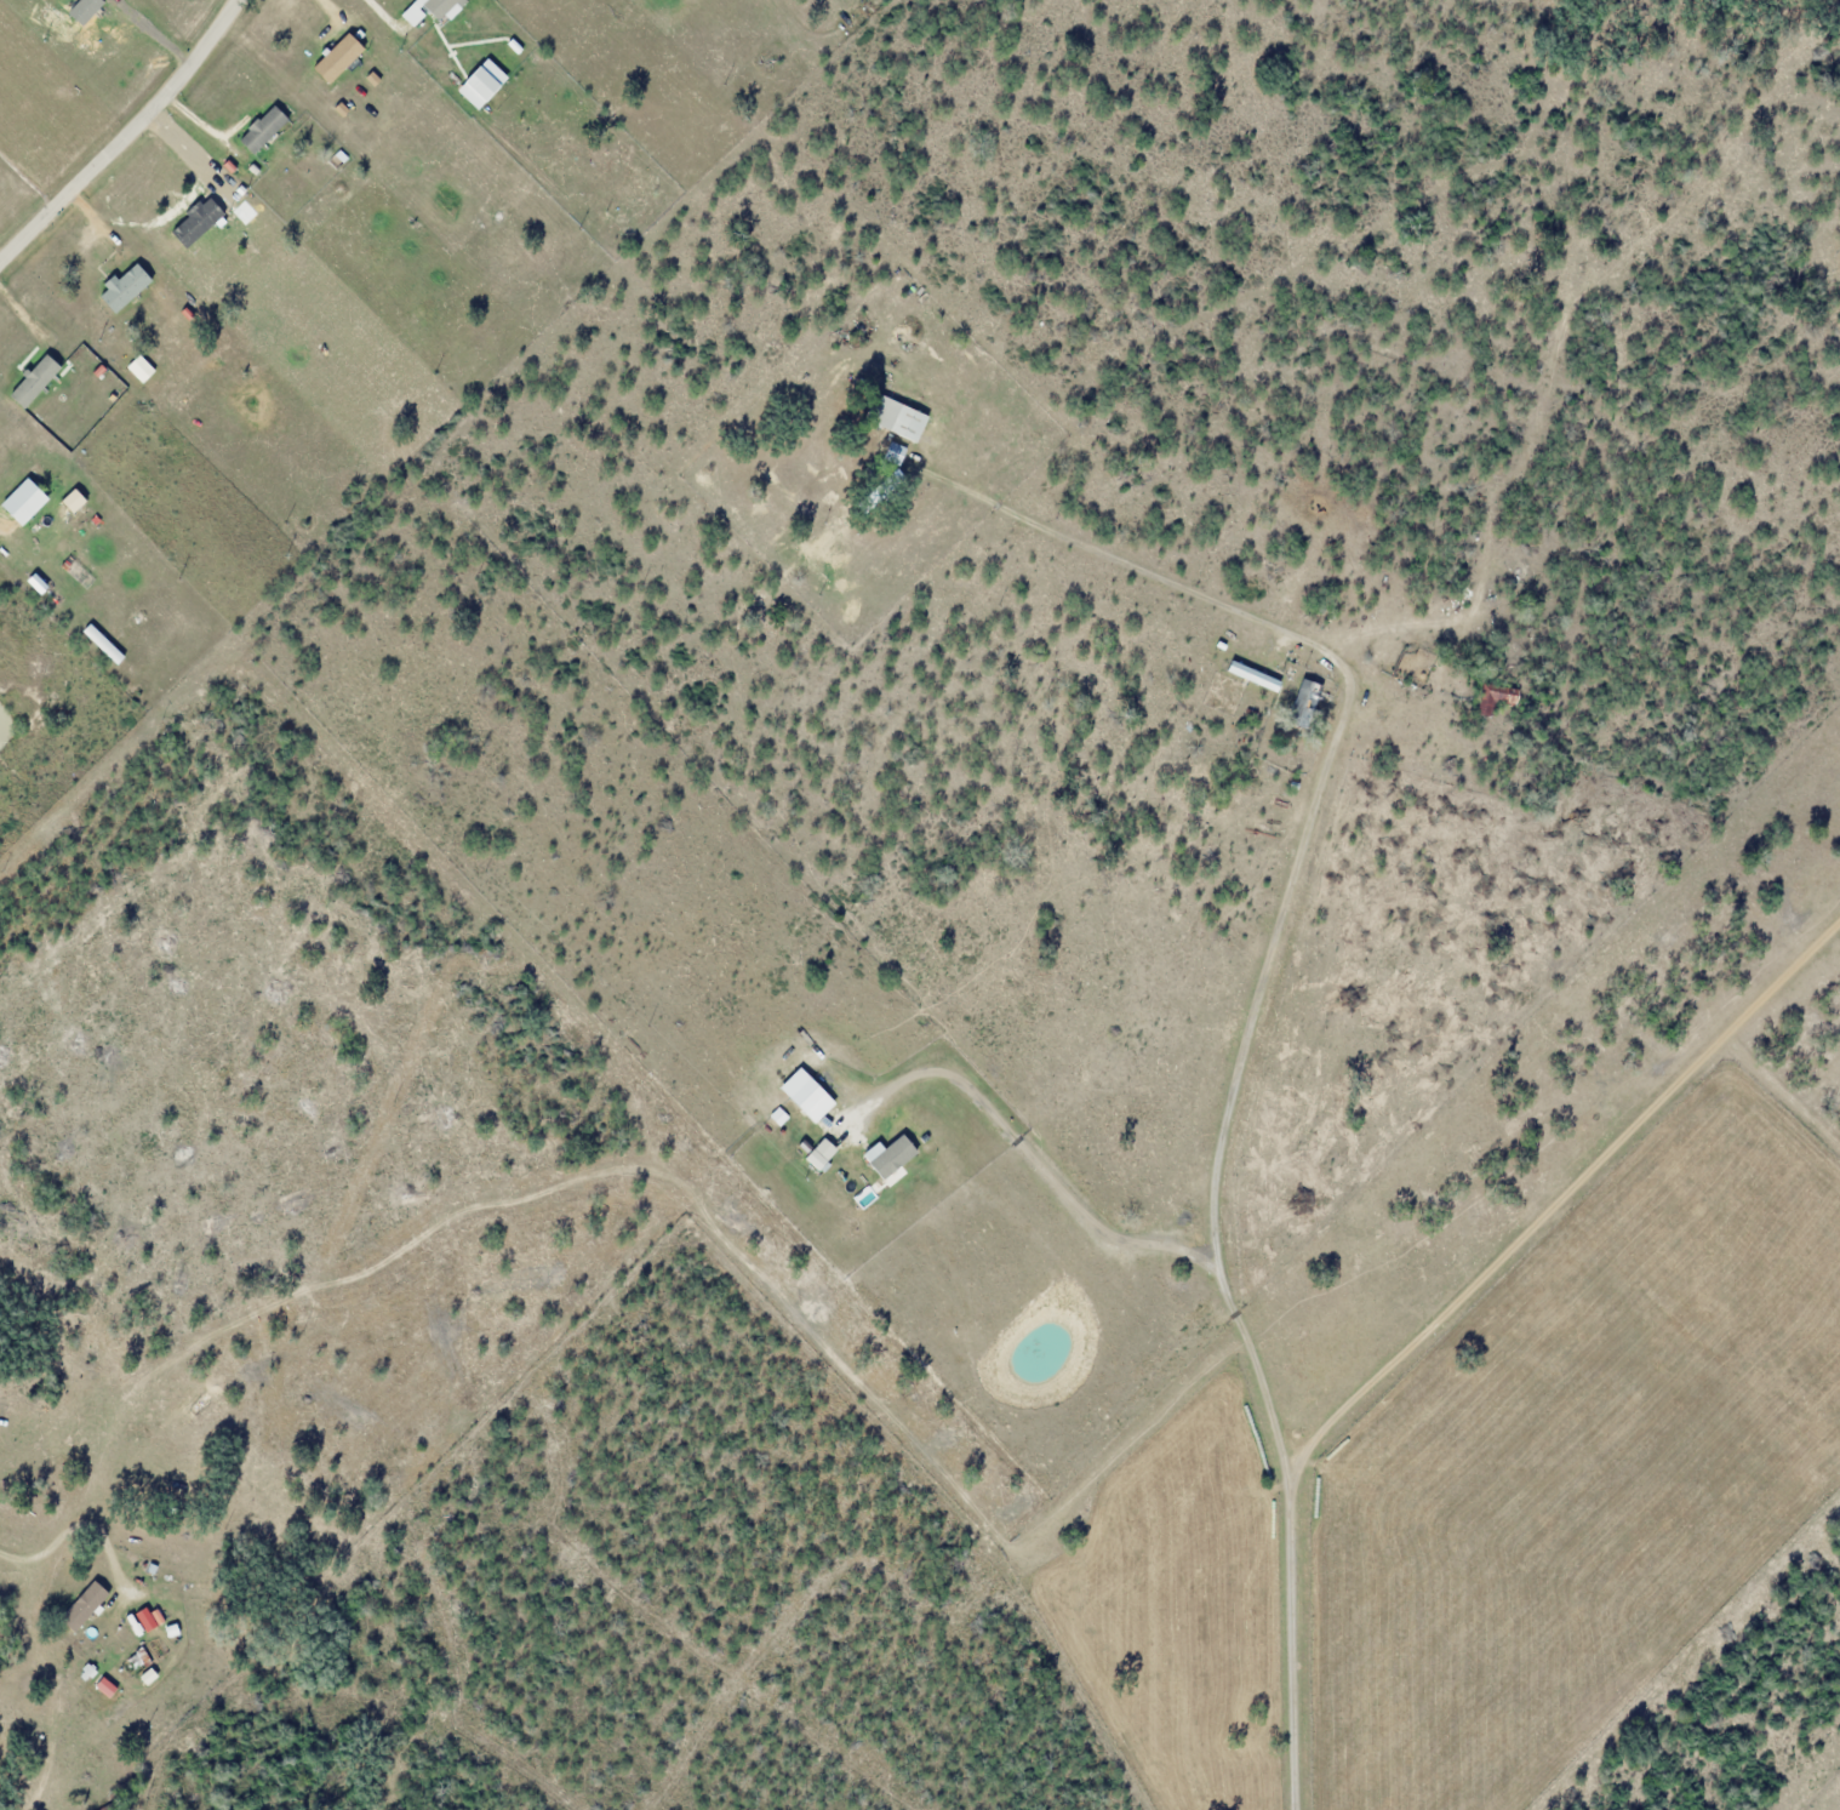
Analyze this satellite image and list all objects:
building: (438, 6)
building: (343, 19)
building: (358, 34)
building: (336, 57)
building: (480, 84)
road: (125, 136)
building: (198, 221)
building: (124, 287)
building: (897, 417)
building: (895, 452)
building: (1495, 697)
building: (1304, 703)
road: (1303, 839)
road: (1442, 1315)
road: (30, 1551)
building: (84, 1605)
building: (155, 1615)
building: (133, 1622)
building: (171, 1629)
building: (135, 1661)

